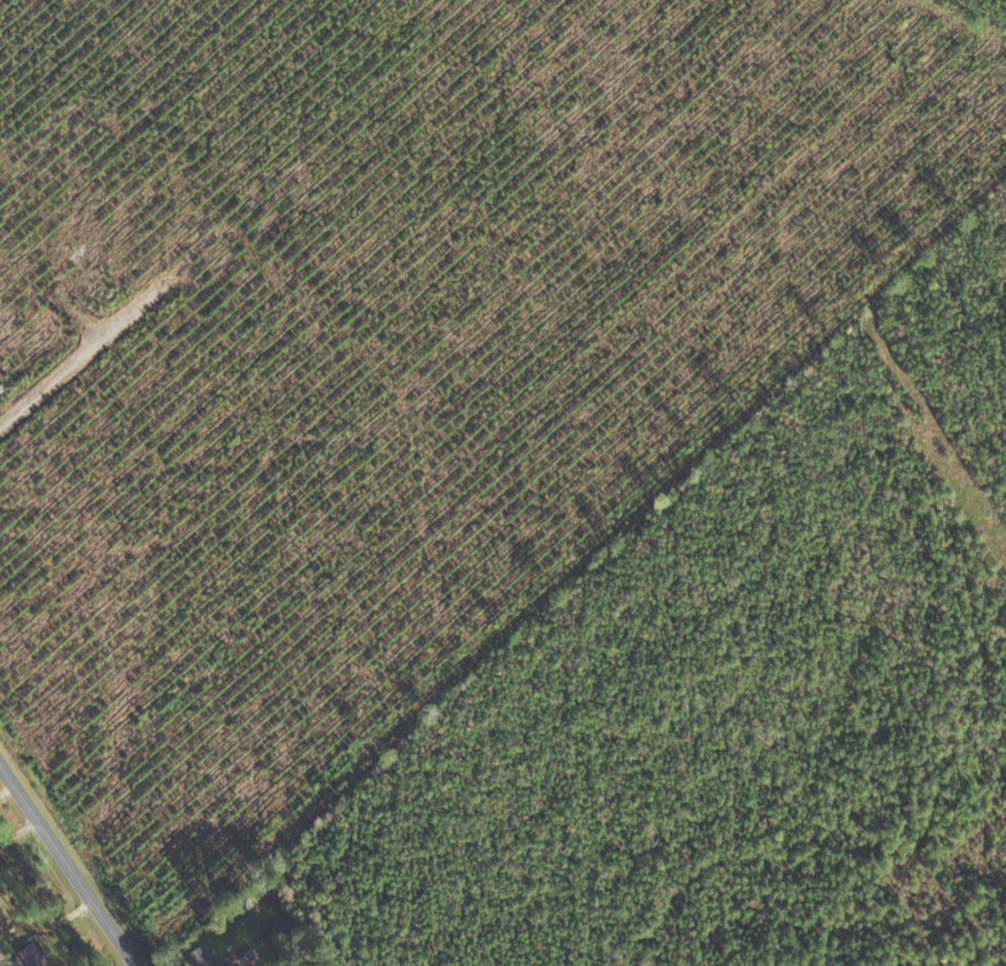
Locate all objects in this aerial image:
road: (4, 788)
road: (16, 832)
road: (65, 870)
building: (1, 891)
building: (31, 956)
building: (201, 957)

